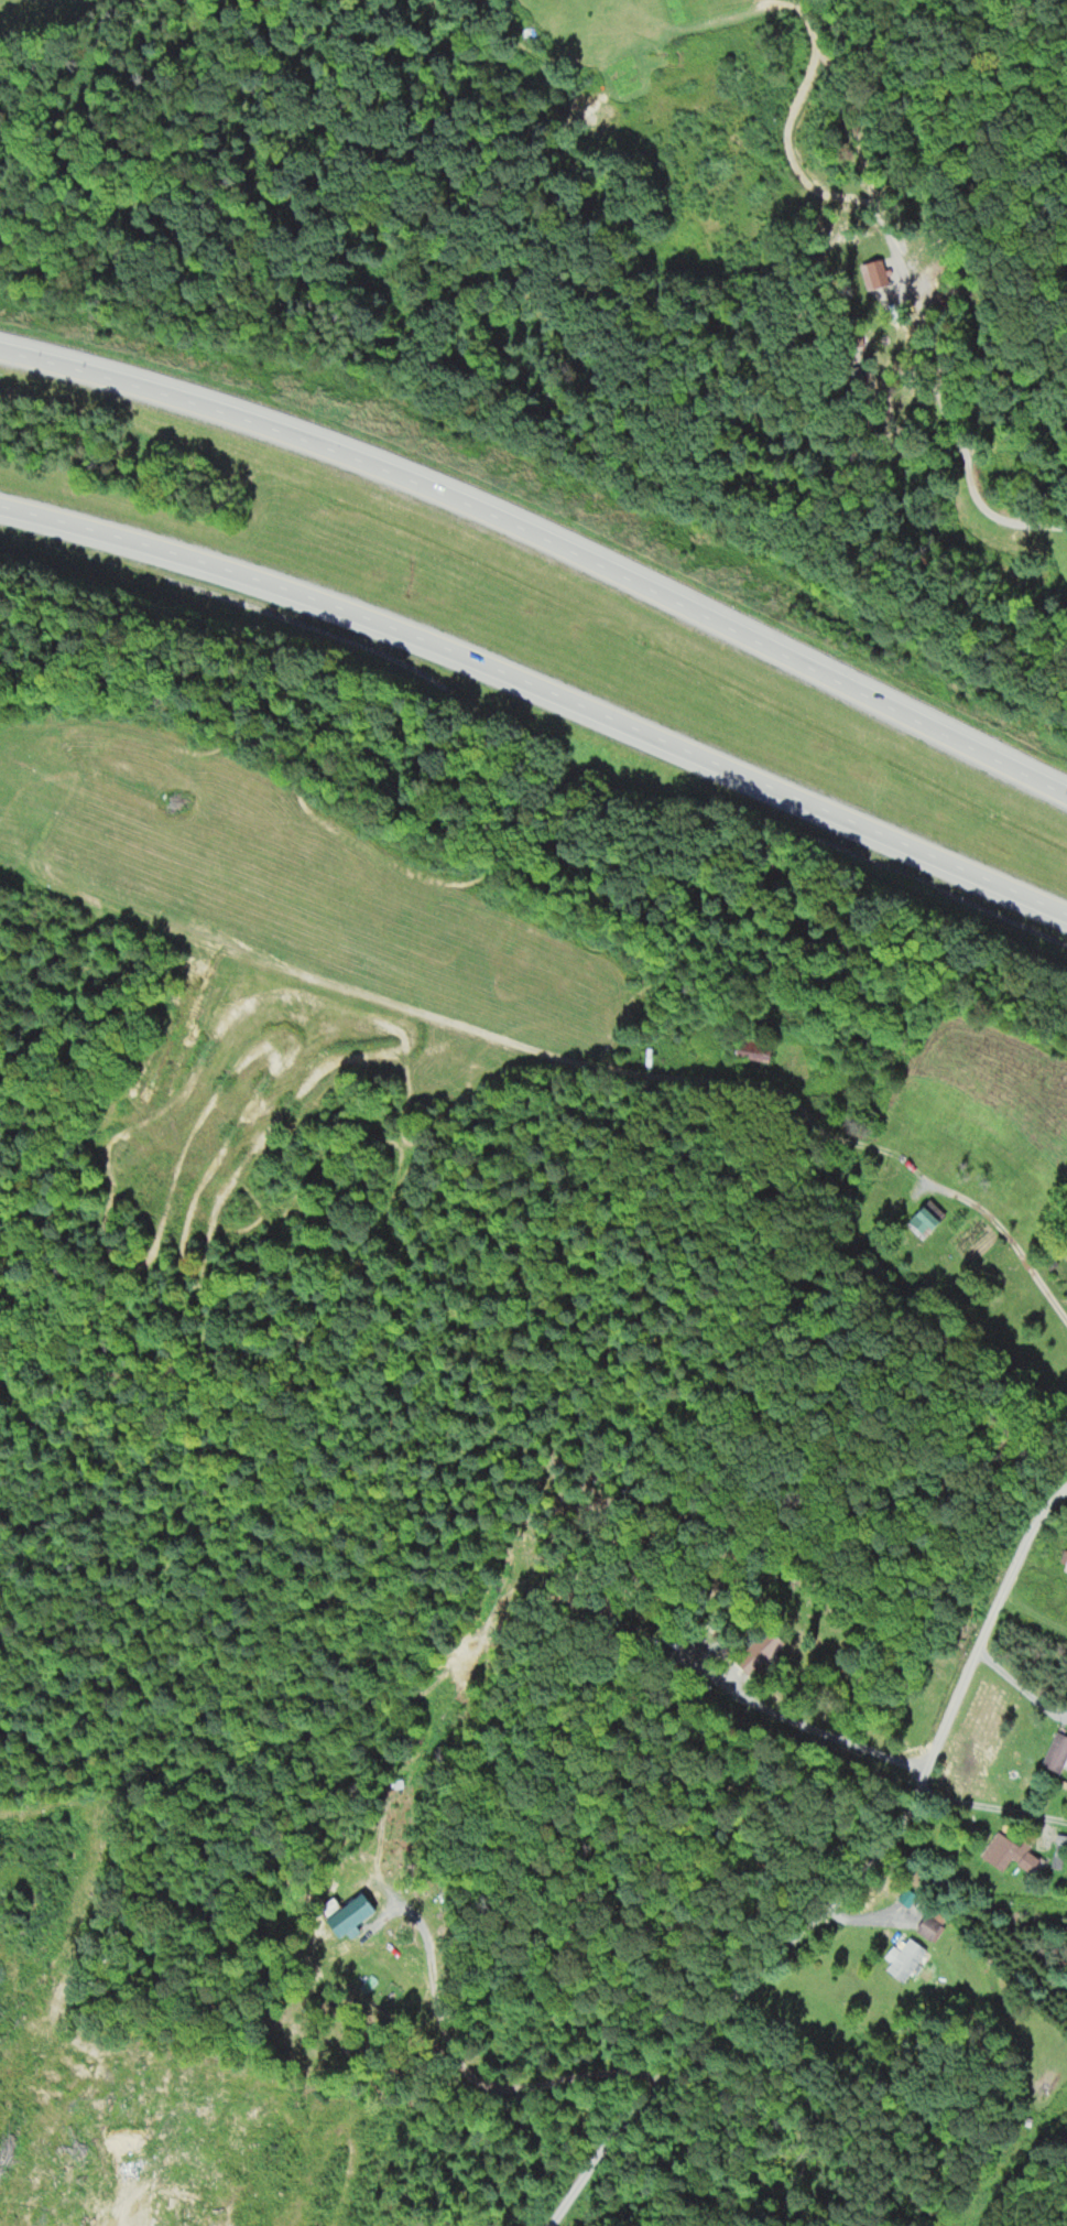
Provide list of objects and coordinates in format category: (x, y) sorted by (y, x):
road: (546, 542)
road: (541, 691)
building: (312, 1050)
building: (923, 1217)
building: (1064, 1562)
building: (1054, 1752)
building: (1057, 1848)
building: (1006, 1852)
road: (843, 1881)
building: (924, 1926)
building: (903, 1959)

